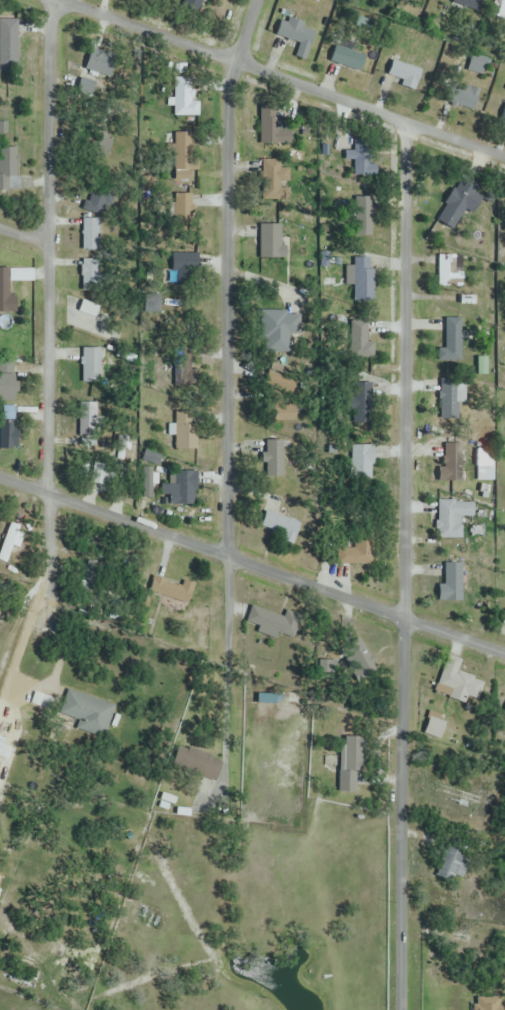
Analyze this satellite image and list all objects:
building: (432, 0)
building: (468, 4)
building: (498, 10)
building: (294, 36)
building: (8, 44)
building: (350, 59)
building: (479, 65)
building: (404, 74)
building: (93, 76)
road: (277, 80)
building: (184, 95)
building: (463, 95)
building: (272, 126)
building: (98, 143)
building: (183, 152)
building: (363, 166)
building: (9, 168)
building: (274, 173)
building: (96, 198)
building: (458, 207)
building: (181, 208)
building: (364, 216)
road: (23, 233)
building: (91, 234)
building: (265, 239)
building: (446, 272)
building: (92, 276)
building: (363, 280)
building: (6, 289)
road: (46, 295)
building: (152, 302)
building: (94, 318)
building: (276, 331)
building: (359, 338)
building: (452, 342)
building: (91, 365)
building: (180, 365)
building: (7, 381)
building: (279, 383)
road: (226, 394)
building: (358, 398)
building: (449, 399)
building: (284, 412)
building: (9, 428)
building: (274, 458)
building: (361, 463)
building: (451, 464)
building: (484, 465)
building: (99, 470)
building: (181, 488)
building: (451, 517)
building: (280, 526)
building: (8, 542)
building: (358, 552)
road: (252, 566)
road: (403, 568)
building: (451, 584)
building: (173, 590)
building: (273, 621)
building: (1, 622)
building: (360, 659)
building: (458, 681)
building: (86, 711)
building: (441, 729)
building: (4, 752)
building: (196, 764)
building: (350, 765)
building: (459, 794)
building: (453, 863)
building: (490, 1003)

